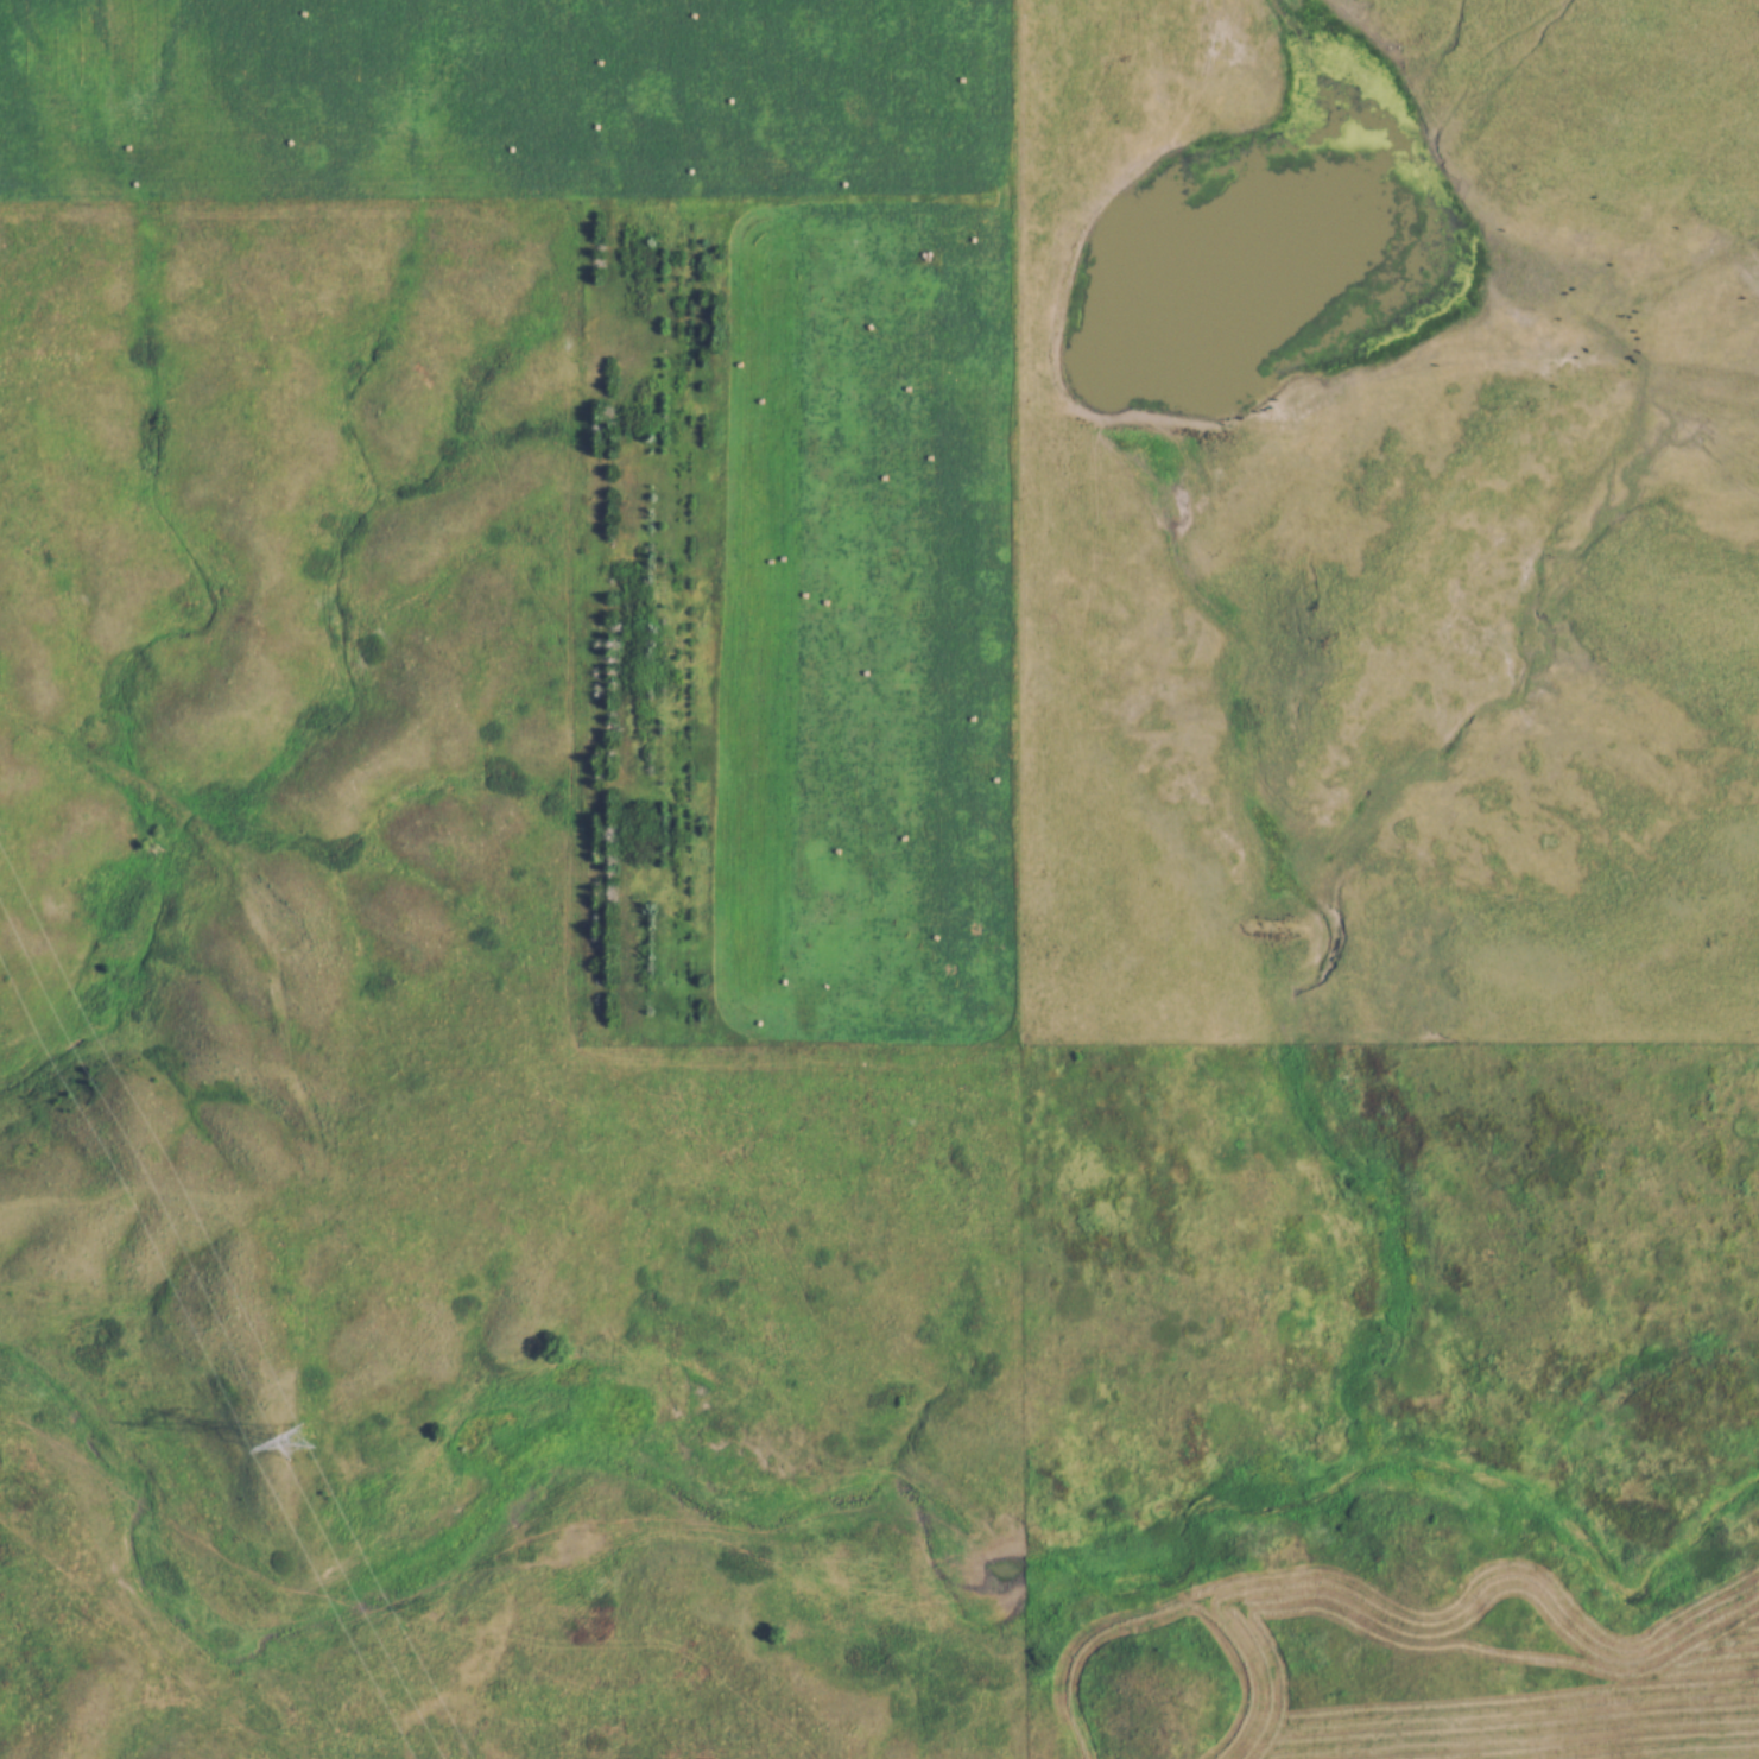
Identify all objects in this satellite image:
power tower: (291, 1441)

